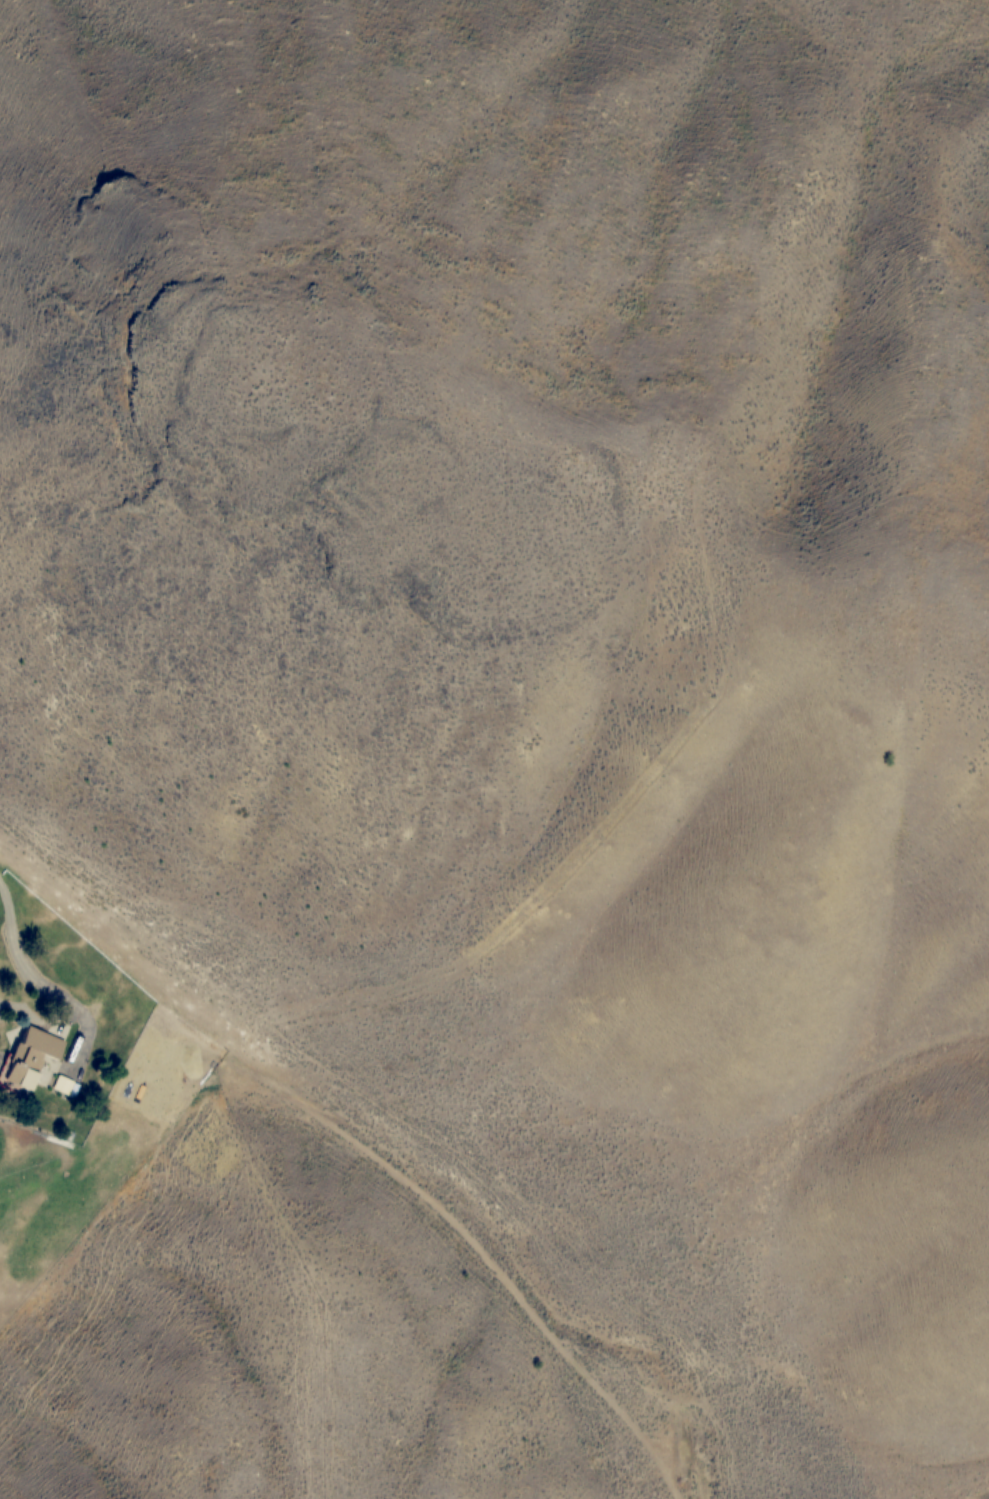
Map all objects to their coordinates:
building: (32, 1060)

